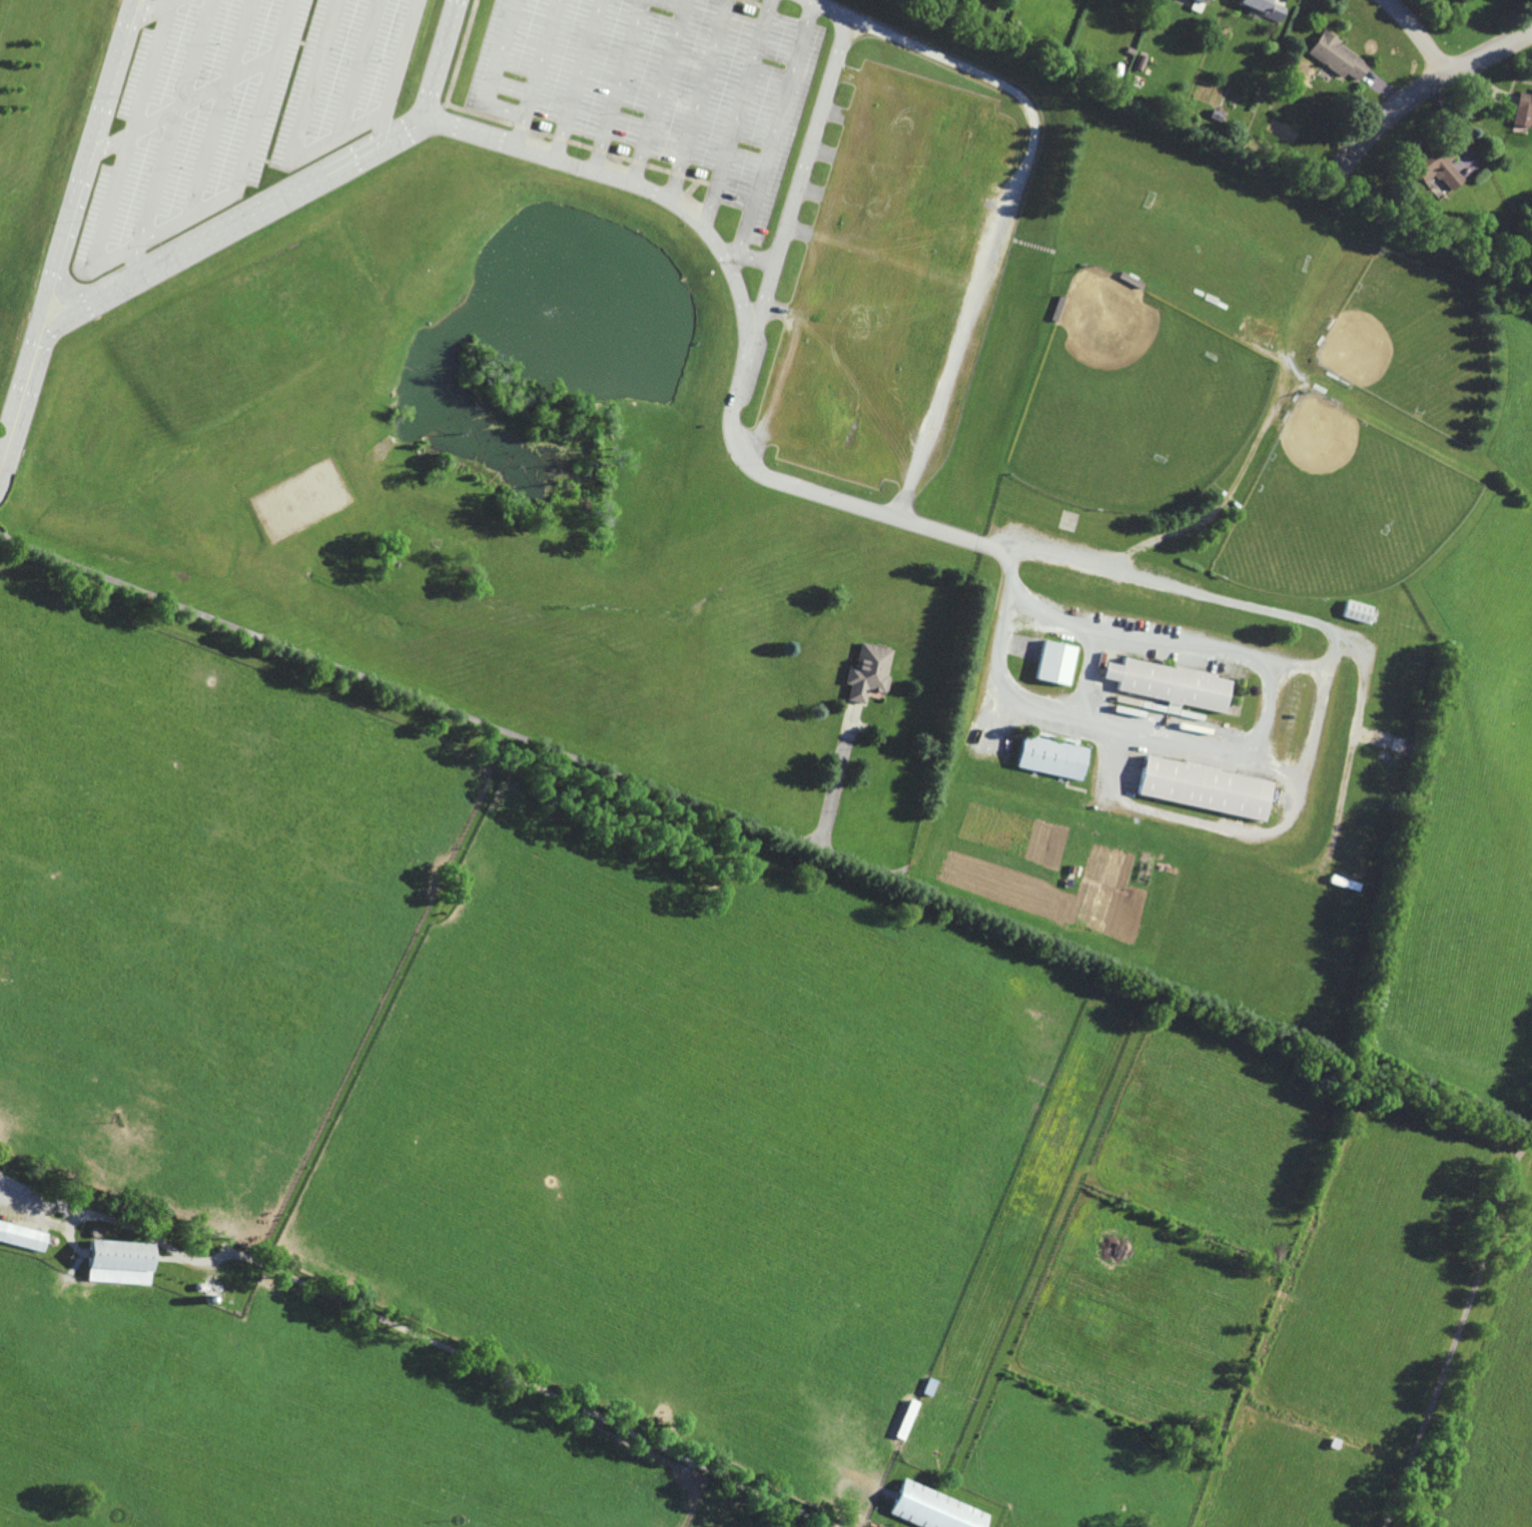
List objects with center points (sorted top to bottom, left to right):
building: (1202, 1)
building: (1264, 7)
road: (145, 8)
road: (1418, 37)
building: (1338, 57)
road: (1490, 59)
road: (442, 60)
road: (362, 69)
road: (401, 71)
road: (184, 103)
road: (226, 108)
building: (1524, 109)
road: (179, 120)
road: (1392, 121)
road: (301, 132)
road: (564, 157)
building: (1438, 164)
road: (798, 177)
road: (1011, 202)
road: (69, 227)
road: (140, 243)
building: (1259, 331)
building: (1358, 611)
building: (1056, 662)
building: (869, 672)
building: (1172, 684)
road: (469, 717)
road: (1311, 744)
building: (1052, 757)
building: (1205, 787)
building: (23, 1236)
building: (120, 1261)
road: (424, 1337)
road: (1453, 1343)
building: (933, 1508)

